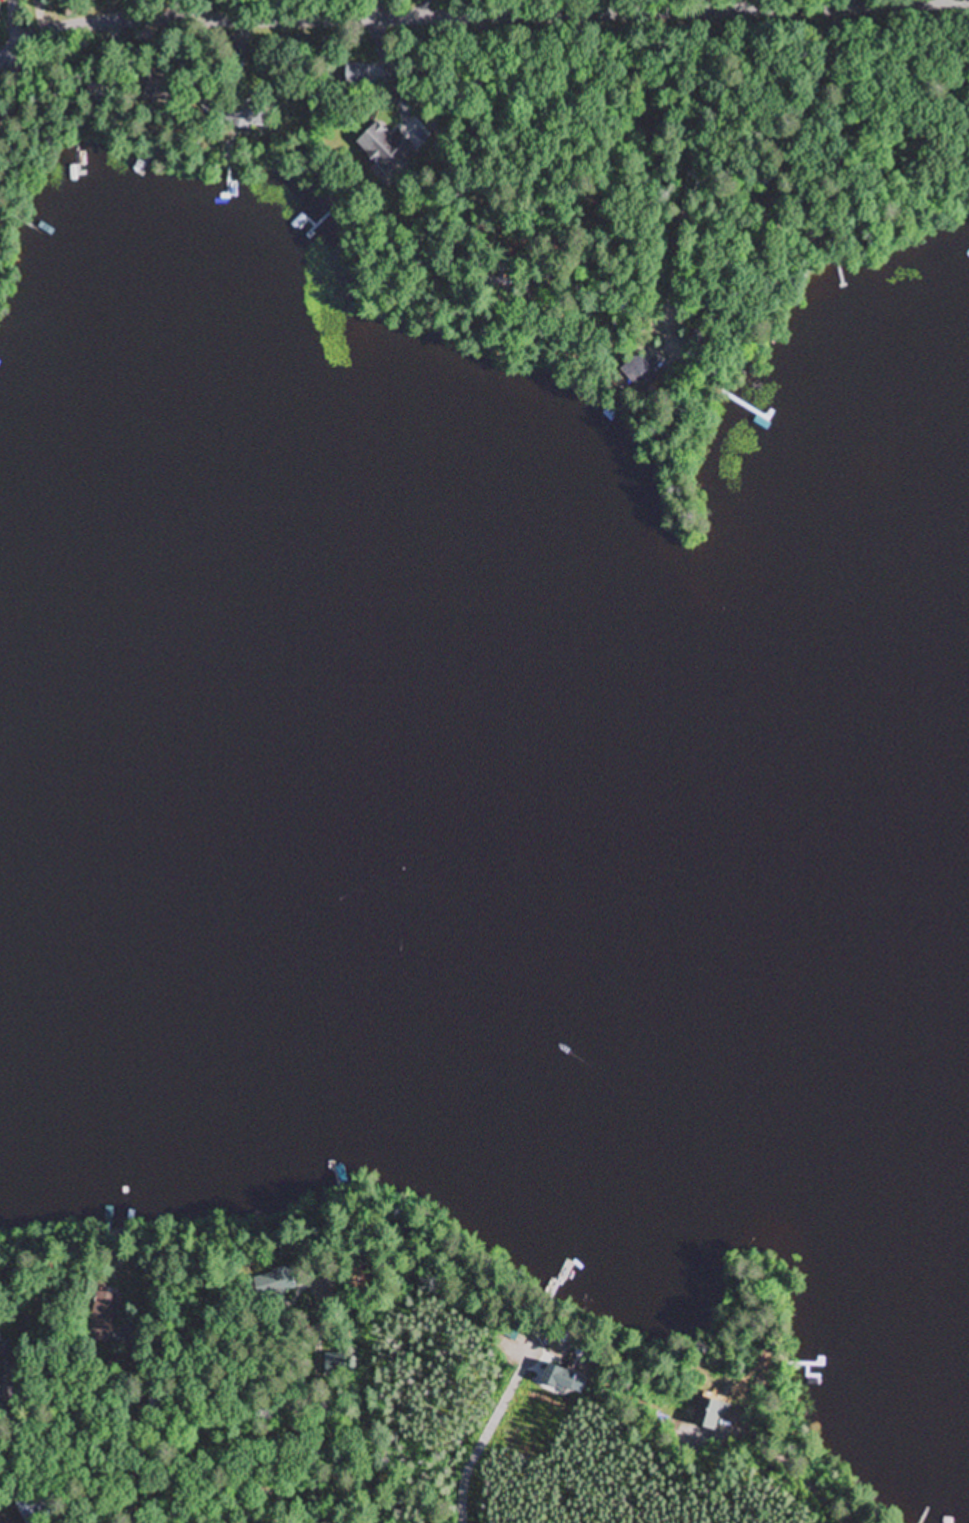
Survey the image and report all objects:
road: (480, 17)
building: (355, 74)
building: (157, 88)
road: (490, 103)
building: (243, 112)
building: (384, 147)
building: (638, 370)
building: (276, 1283)
building: (104, 1317)
building: (2, 1358)
building: (336, 1363)
building: (558, 1379)
building: (708, 1414)
road: (137, 1443)
building: (33, 1507)

